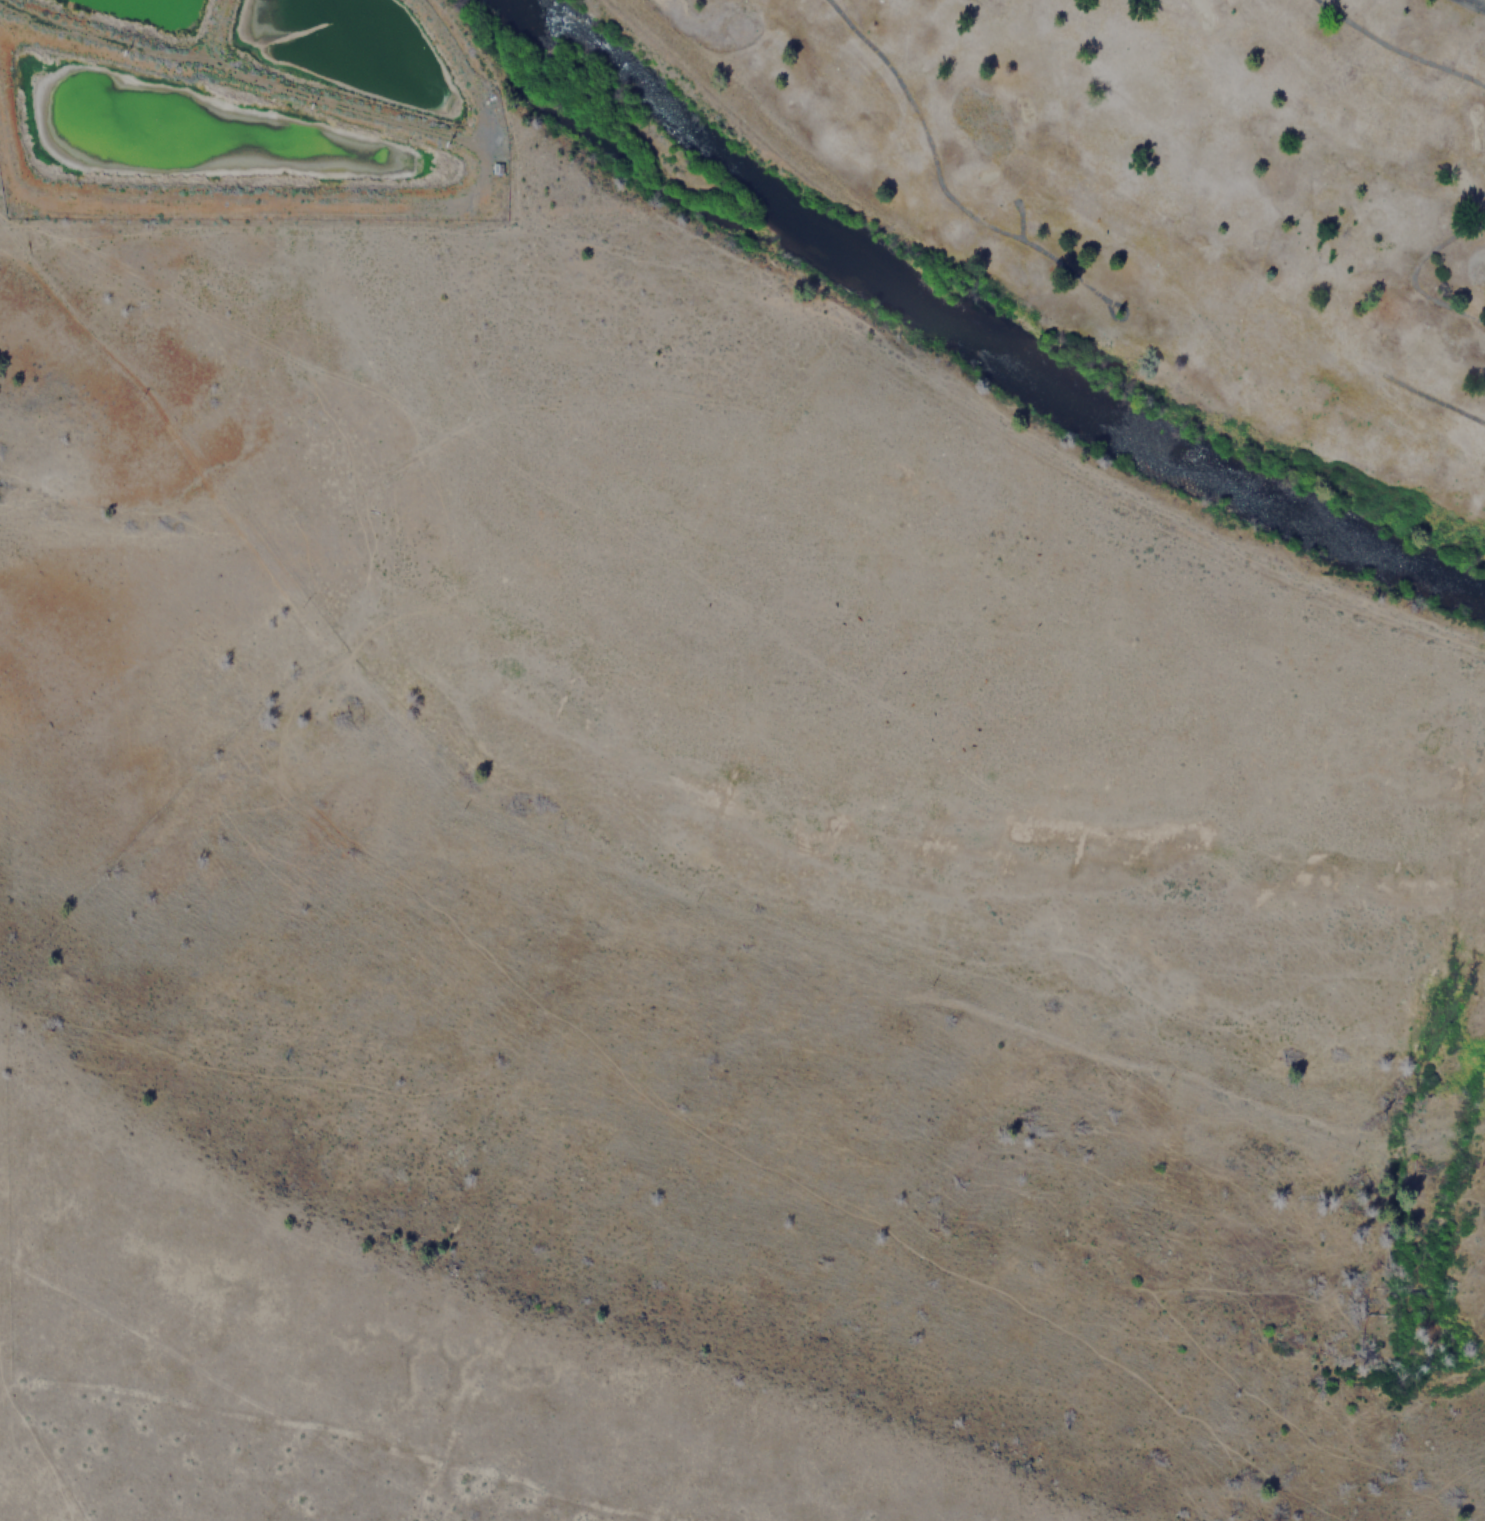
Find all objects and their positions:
park: (1169, 190)
river: (979, 340)
road: (1065, 466)

